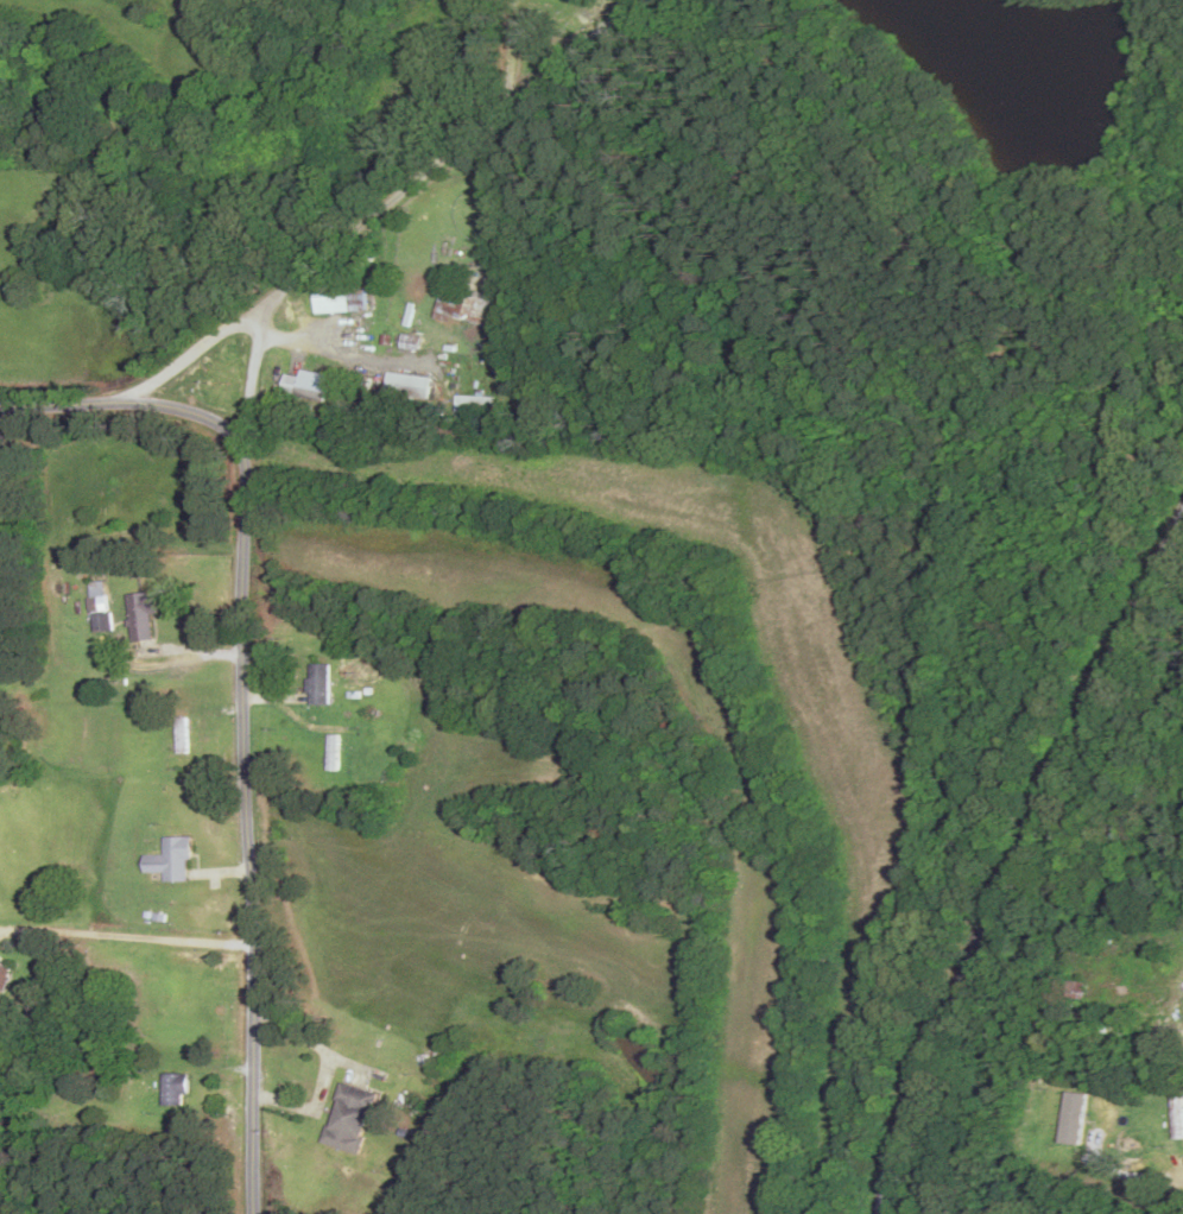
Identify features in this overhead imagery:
building: (341, 302)
building: (470, 305)
road: (150, 366)
building: (407, 386)
building: (304, 387)
road: (234, 399)
road: (295, 518)
building: (144, 617)
building: (102, 624)
building: (321, 685)
building: (335, 754)
railway: (1018, 858)
building: (172, 861)
building: (4, 976)
building: (1076, 991)
building: (175, 1090)
building: (350, 1118)
building: (1177, 1118)

